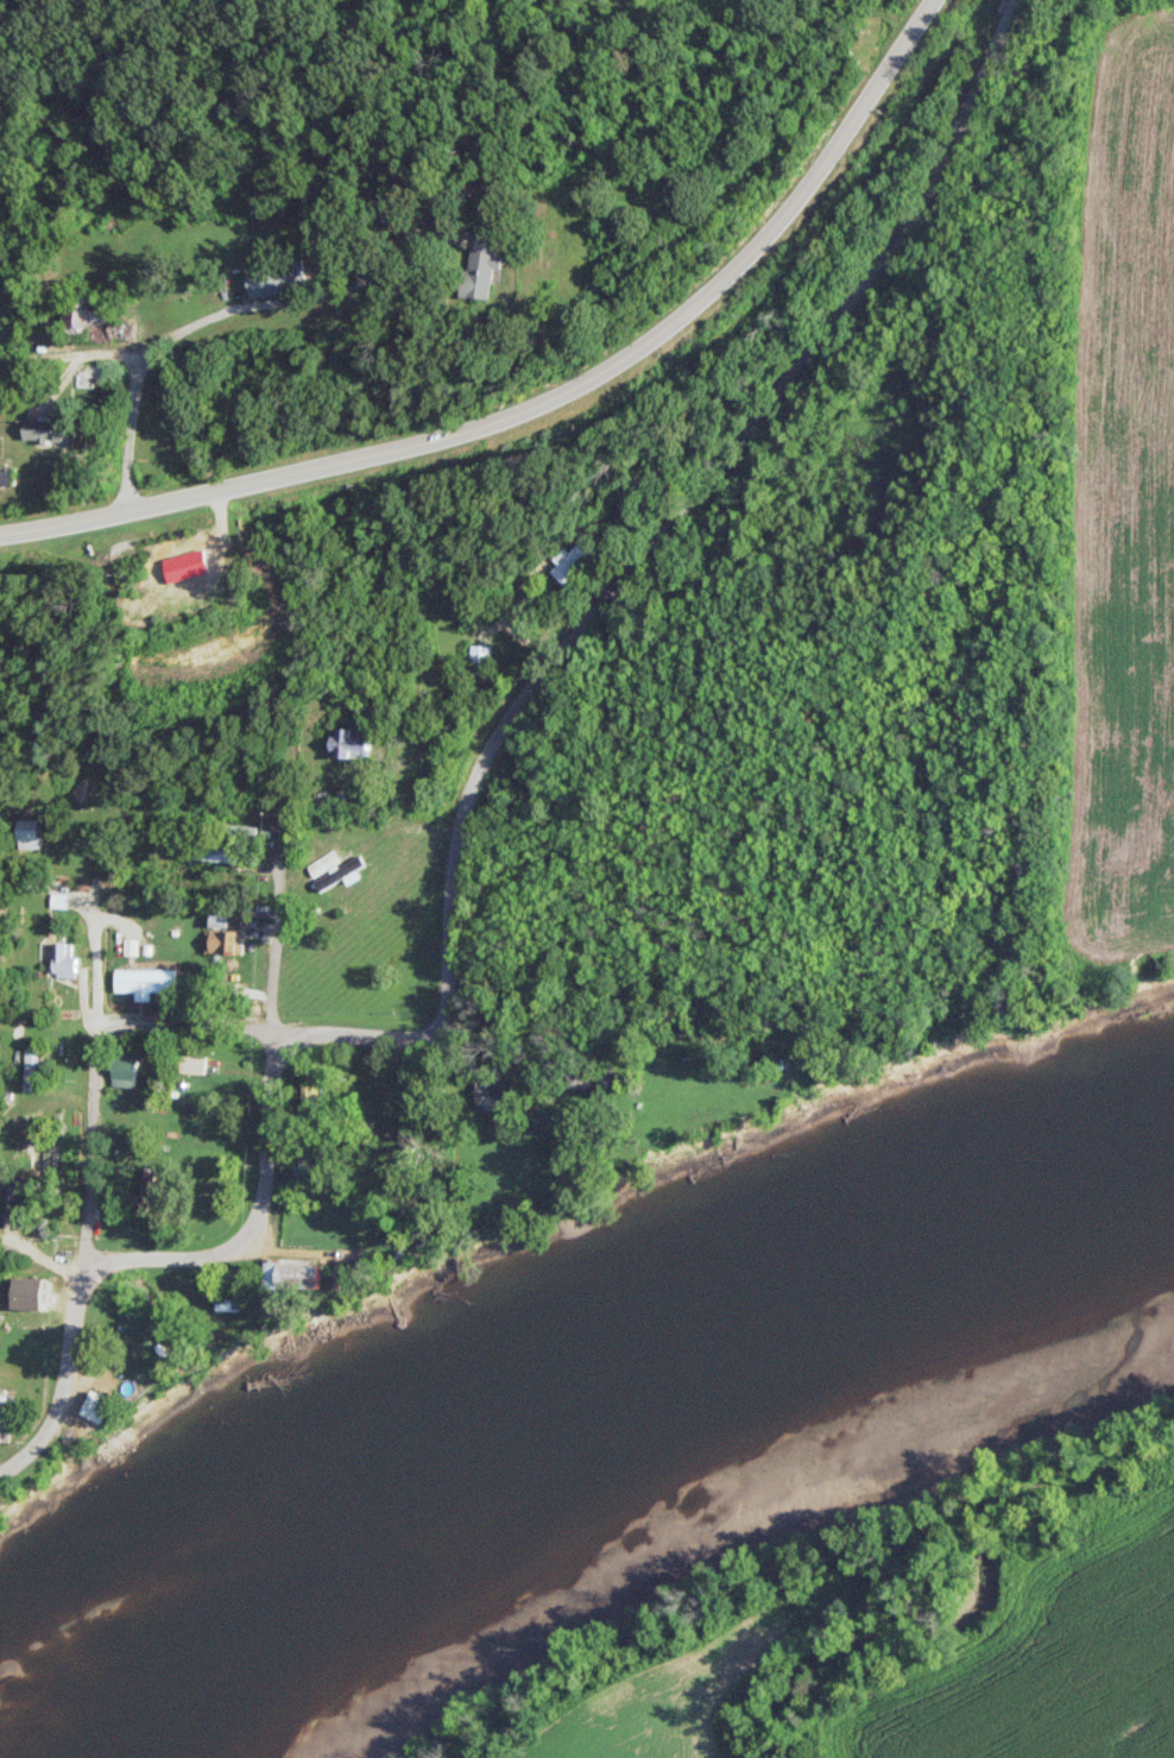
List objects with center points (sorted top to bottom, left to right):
building: (481, 265)
building: (270, 279)
building: (94, 322)
road: (184, 327)
road: (543, 395)
building: (49, 429)
building: (7, 477)
road: (682, 494)
building: (567, 562)
building: (475, 657)
building: (349, 745)
building: (26, 832)
building: (330, 868)
road: (273, 914)
building: (216, 939)
building: (62, 958)
building: (141, 978)
road: (582, 1002)
road: (354, 1017)
road: (182, 1021)
road: (93, 1066)
building: (30, 1067)
building: (122, 1070)
building: (308, 1095)
building: (490, 1098)
building: (120, 1121)
building: (37, 1149)
building: (305, 1164)
building: (18, 1187)
building: (139, 1201)
road: (254, 1214)
road: (17, 1243)
road: (58, 1260)
building: (293, 1272)
road: (61, 1376)
building: (96, 1404)
river: (639, 1419)
crop: (1037, 1668)

